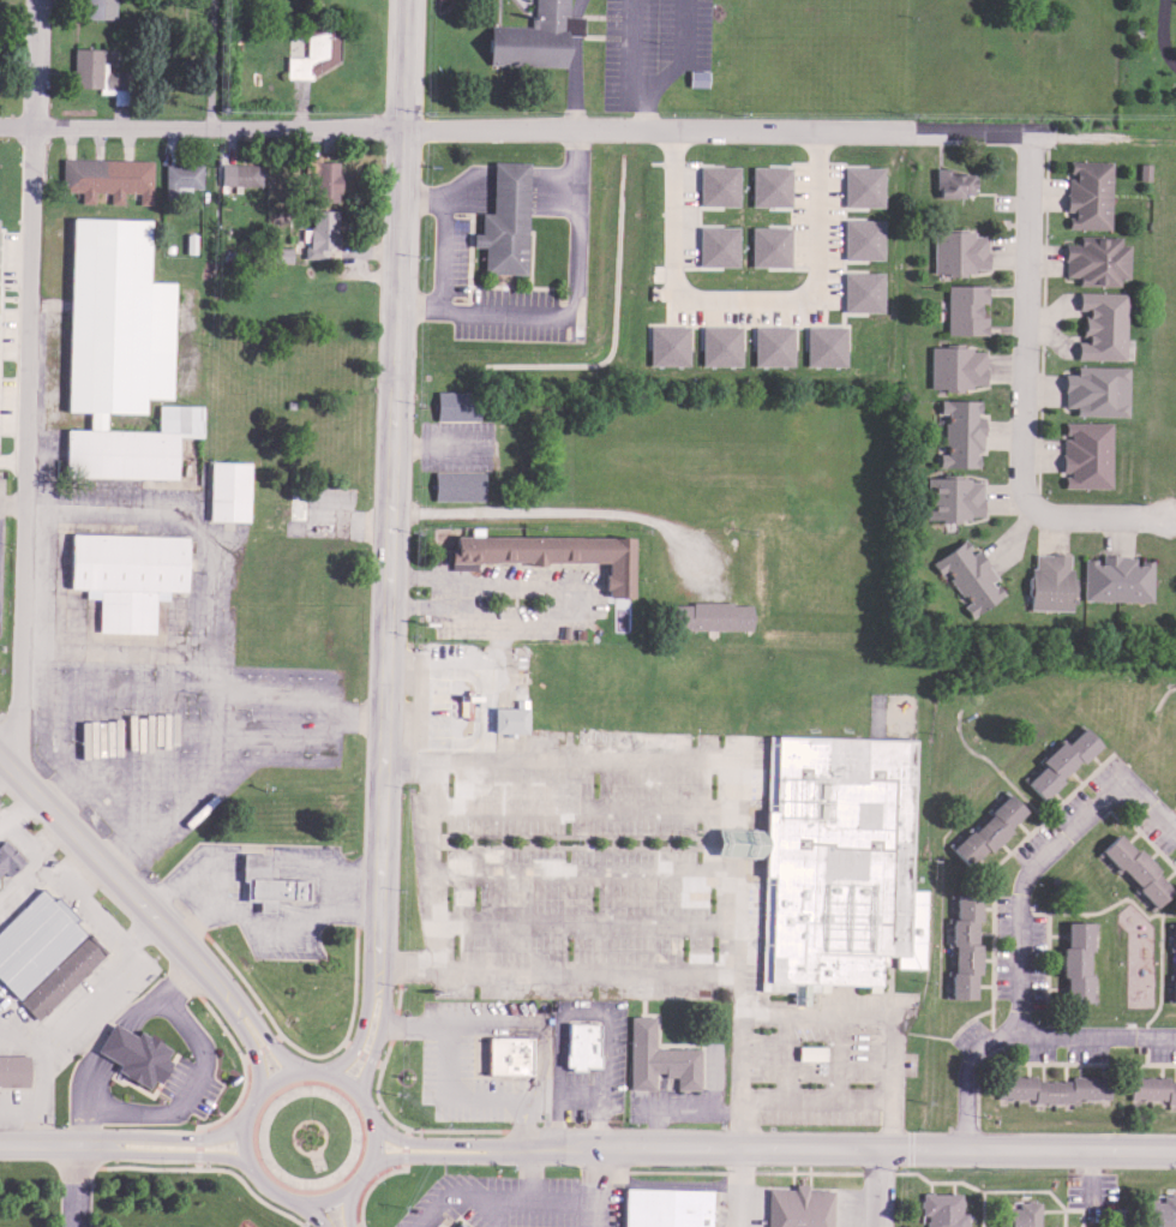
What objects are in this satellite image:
road: (1165, 32)
building: (535, 41)
building: (316, 48)
road: (210, 64)
building: (96, 72)
road: (16, 128)
road: (451, 133)
road: (950, 134)
road: (1102, 145)
building: (238, 172)
building: (104, 175)
building: (179, 175)
building: (950, 181)
building: (718, 182)
building: (768, 182)
road: (400, 184)
building: (862, 184)
building: (1086, 191)
building: (505, 222)
building: (319, 232)
building: (862, 235)
building: (716, 243)
building: (768, 244)
building: (956, 249)
road: (442, 250)
building: (278, 251)
building: (1094, 257)
building: (860, 288)
road: (575, 289)
road: (743, 294)
building: (962, 307)
building: (1099, 323)
building: (667, 342)
building: (719, 342)
building: (772, 343)
building: (823, 343)
building: (120, 357)
building: (954, 365)
road: (24, 387)
building: (1093, 388)
road: (1020, 389)
building: (456, 407)
building: (959, 431)
road: (438, 444)
building: (1084, 451)
building: (456, 485)
building: (226, 491)
building: (953, 496)
road: (11, 501)
road: (553, 508)
building: (551, 553)
building: (966, 573)
road: (418, 575)
building: (122, 576)
building: (1115, 576)
building: (1048, 580)
road: (448, 589)
road: (557, 600)
road: (416, 603)
building: (707, 612)
road: (384, 671)
building: (432, 694)
road: (487, 710)
building: (510, 718)
building: (1056, 759)
building: (984, 827)
building: (7, 856)
road: (1039, 856)
road: (434, 861)
building: (830, 861)
road: (103, 864)
building: (1133, 866)
road: (629, 870)
building: (260, 882)
building: (961, 942)
building: (43, 951)
building: (1073, 958)
building: (1172, 960)
road: (671, 971)
road: (857, 1016)
road: (256, 1019)
road: (238, 1029)
road: (361, 1030)
road: (1022, 1035)
road: (376, 1036)
building: (581, 1046)
building: (809, 1049)
building: (133, 1053)
building: (656, 1055)
building: (508, 1057)
building: (14, 1070)
road: (299, 1070)
building: (1051, 1085)
building: (1151, 1087)
road: (839, 1099)
road: (173, 1136)
road: (431, 1141)
road: (49, 1142)
road: (836, 1151)
road: (178, 1153)
road: (431, 1155)
road: (529, 1174)
road: (72, 1184)
road: (590, 1189)
road: (737, 1189)
road: (877, 1189)
road: (496, 1197)
road: (349, 1207)
building: (796, 1207)
building: (665, 1208)
building: (941, 1209)
building: (1159, 1210)
road: (498, 1213)
building: (1019, 1213)
road: (310, 1214)
building: (458, 1225)
building: (439, 1226)

